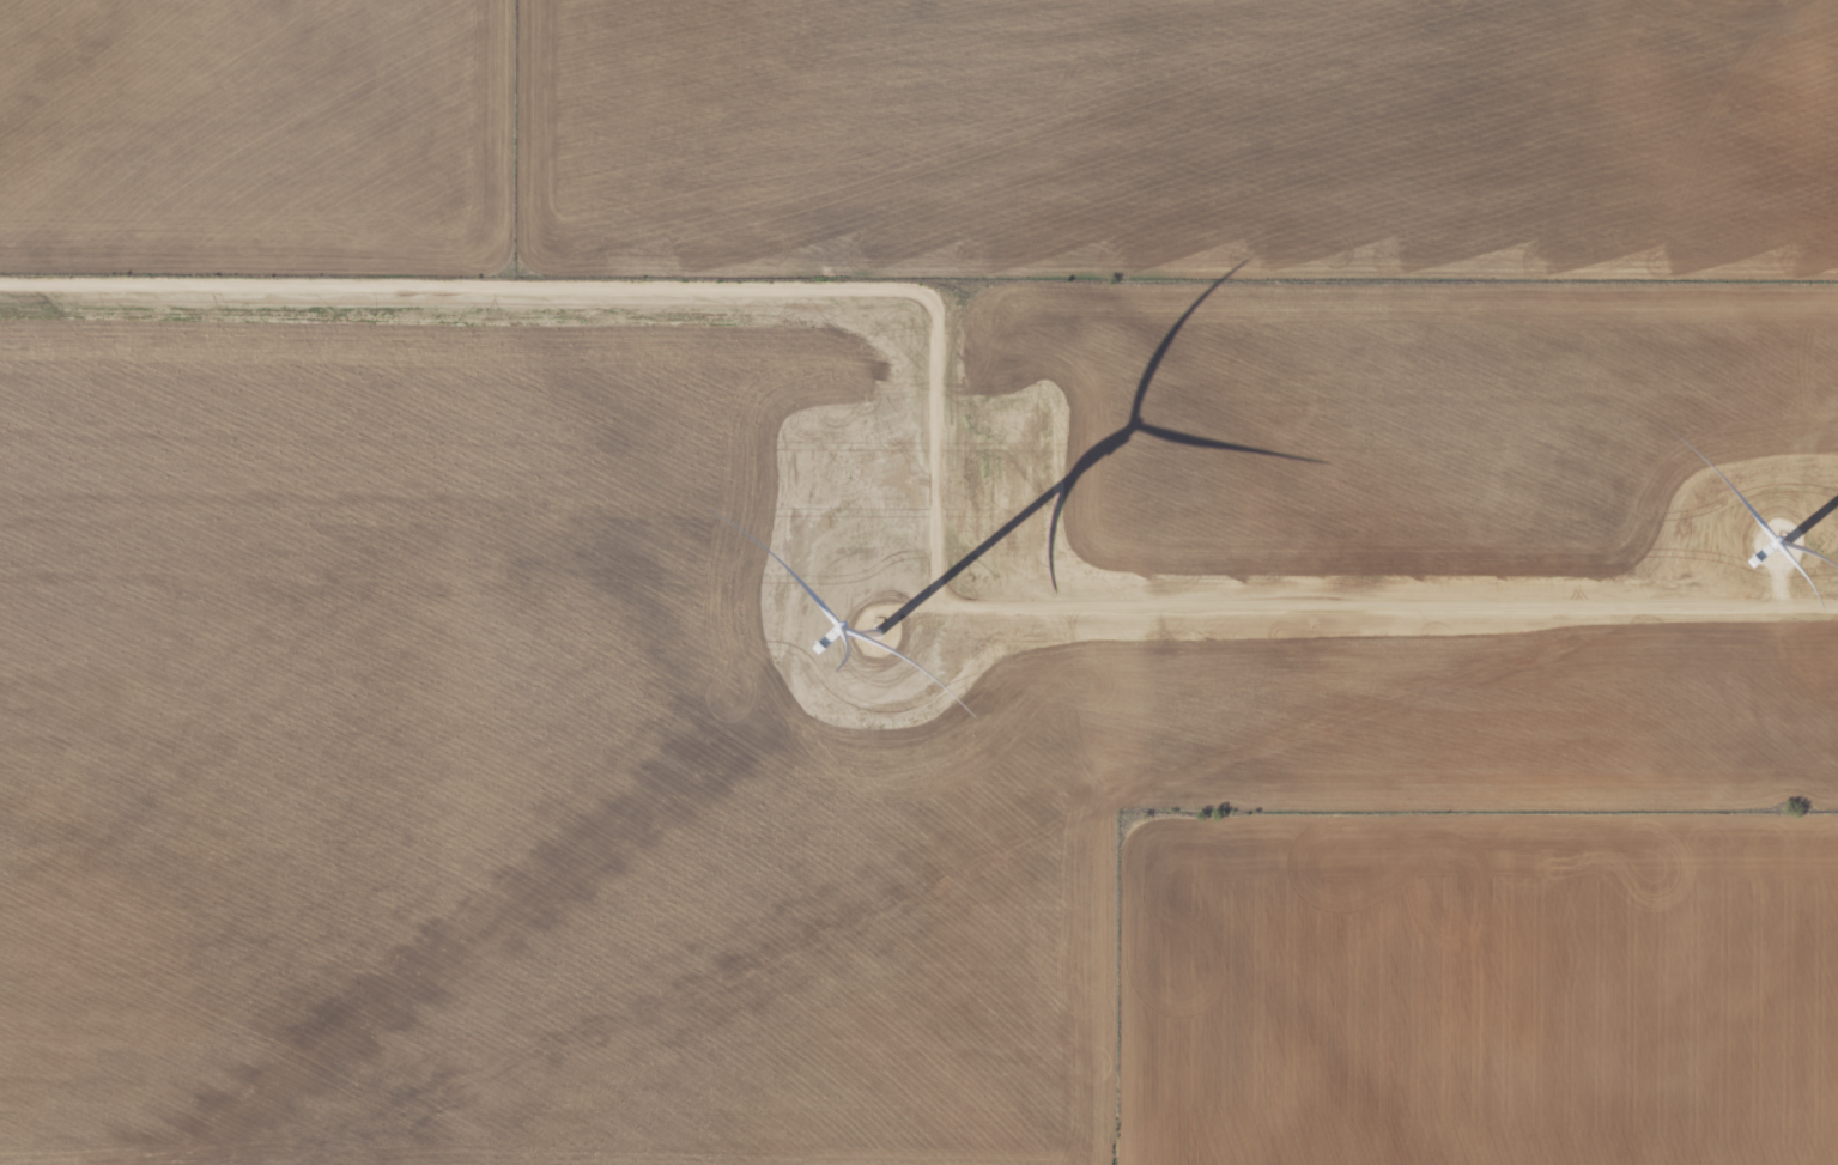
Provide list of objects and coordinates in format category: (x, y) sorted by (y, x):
wind turbine: (1781, 545)
wind turbine: (872, 639)

